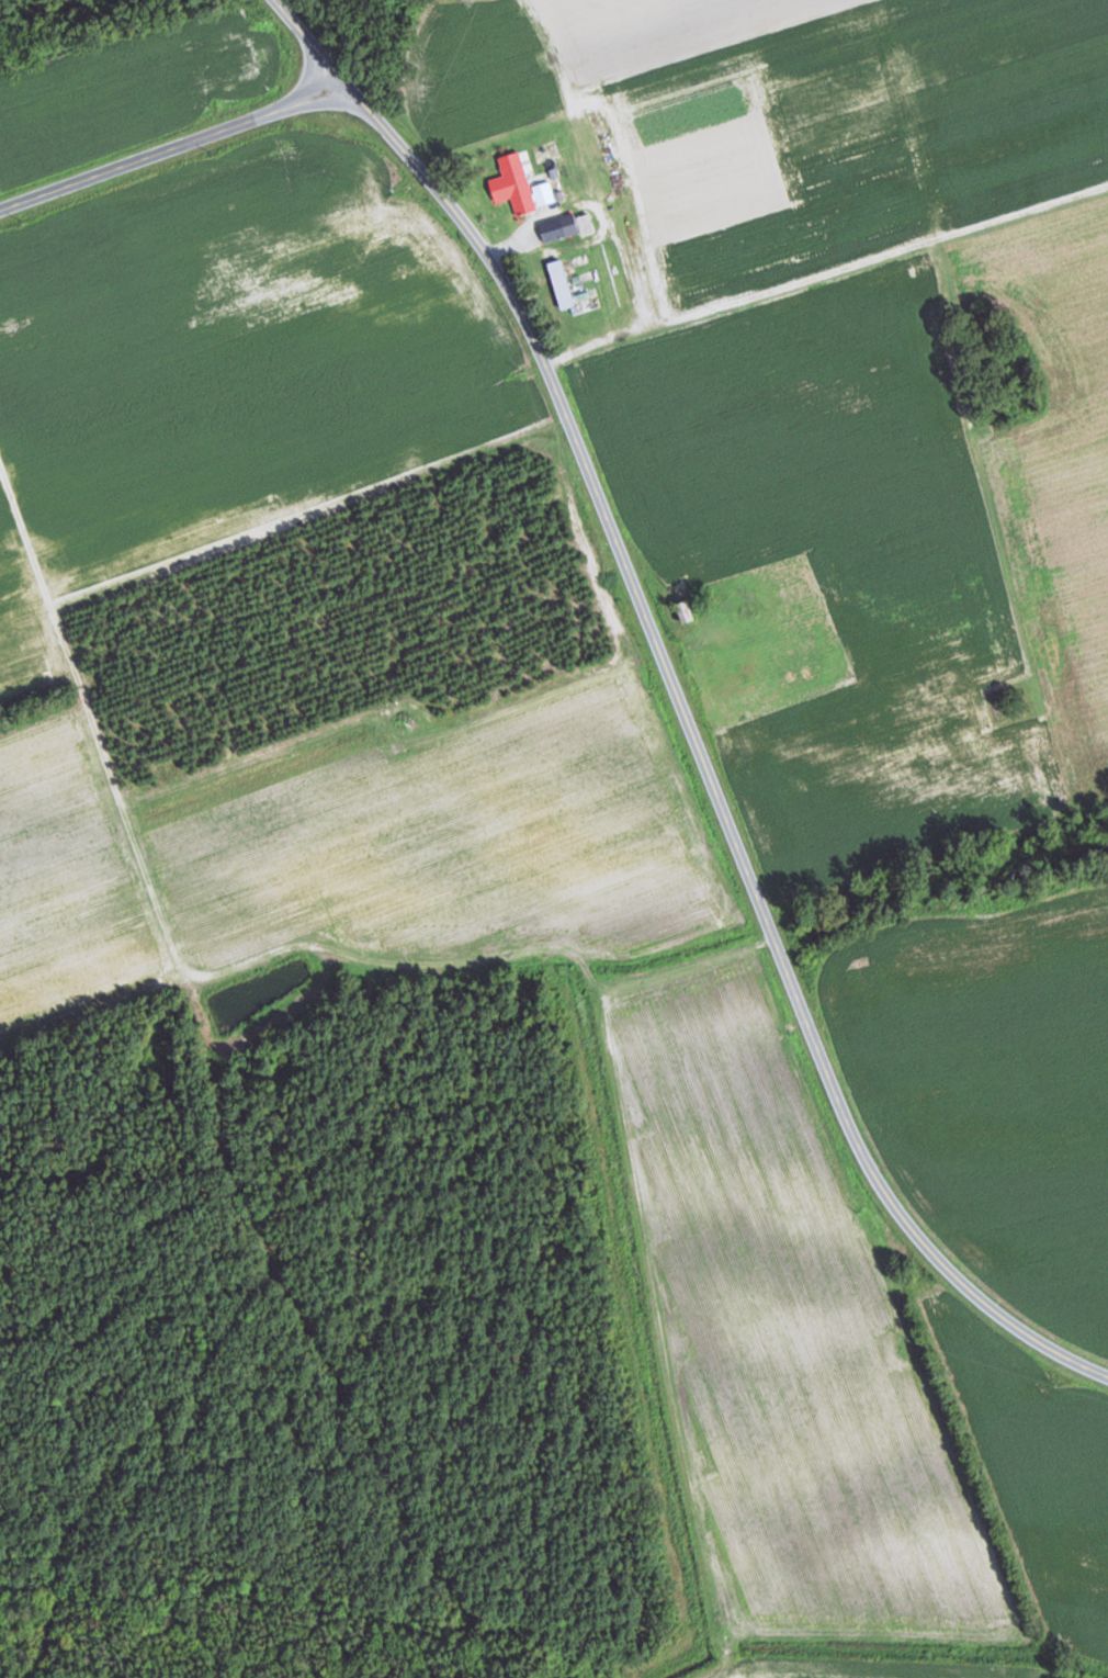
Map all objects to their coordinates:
road: (177, 146)
building: (519, 191)
road: (817, 223)
building: (585, 224)
building: (551, 229)
building: (561, 284)
building: (682, 611)
road: (683, 705)

